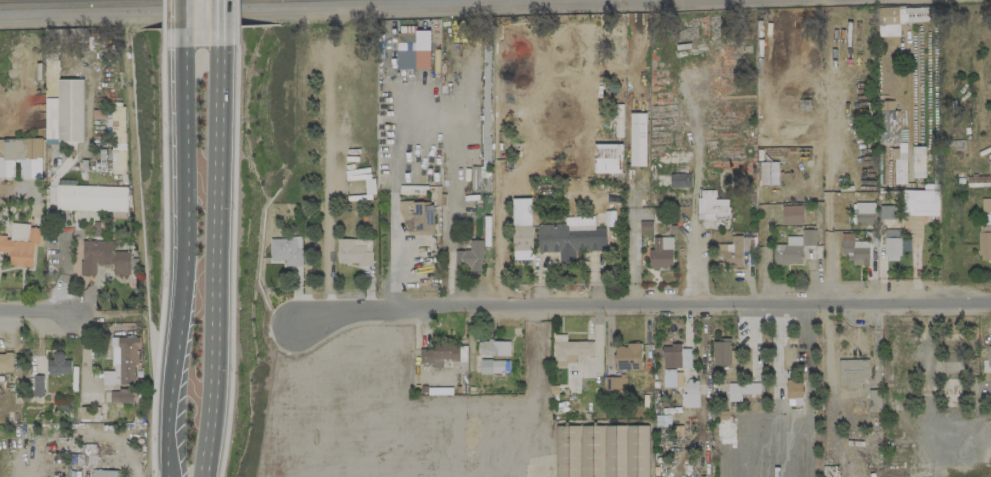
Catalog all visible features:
railway: (133, 4)
road: (364, 10)
road: (184, 23)
road: (220, 23)
building: (413, 50)
building: (65, 113)
road: (432, 116)
road: (182, 125)
building: (888, 127)
building: (637, 139)
building: (1, 148)
building: (21, 158)
building: (607, 158)
building: (918, 162)
building: (769, 173)
building: (679, 180)
building: (977, 181)
building: (369, 187)
building: (90, 198)
building: (920, 202)
building: (711, 205)
building: (986, 205)
building: (886, 212)
building: (864, 213)
building: (792, 215)
building: (417, 218)
road: (691, 221)
building: (522, 229)
building: (808, 237)
building: (571, 238)
building: (20, 244)
building: (894, 244)
building: (984, 246)
building: (854, 249)
building: (285, 250)
building: (734, 250)
building: (788, 251)
building: (354, 252)
building: (661, 252)
building: (469, 256)
building: (102, 257)
road: (217, 262)
road: (176, 276)
road: (644, 311)
road: (40, 313)
building: (494, 348)
building: (570, 350)
building: (723, 353)
building: (439, 354)
building: (989, 356)
building: (628, 357)
building: (675, 357)
building: (6, 362)
building: (121, 363)
building: (58, 364)
building: (494, 366)
building: (852, 372)
building: (38, 385)
building: (615, 385)
building: (741, 390)
road: (165, 393)
building: (120, 396)
building: (690, 396)
building: (874, 400)
road: (161, 457)
building: (104, 473)

